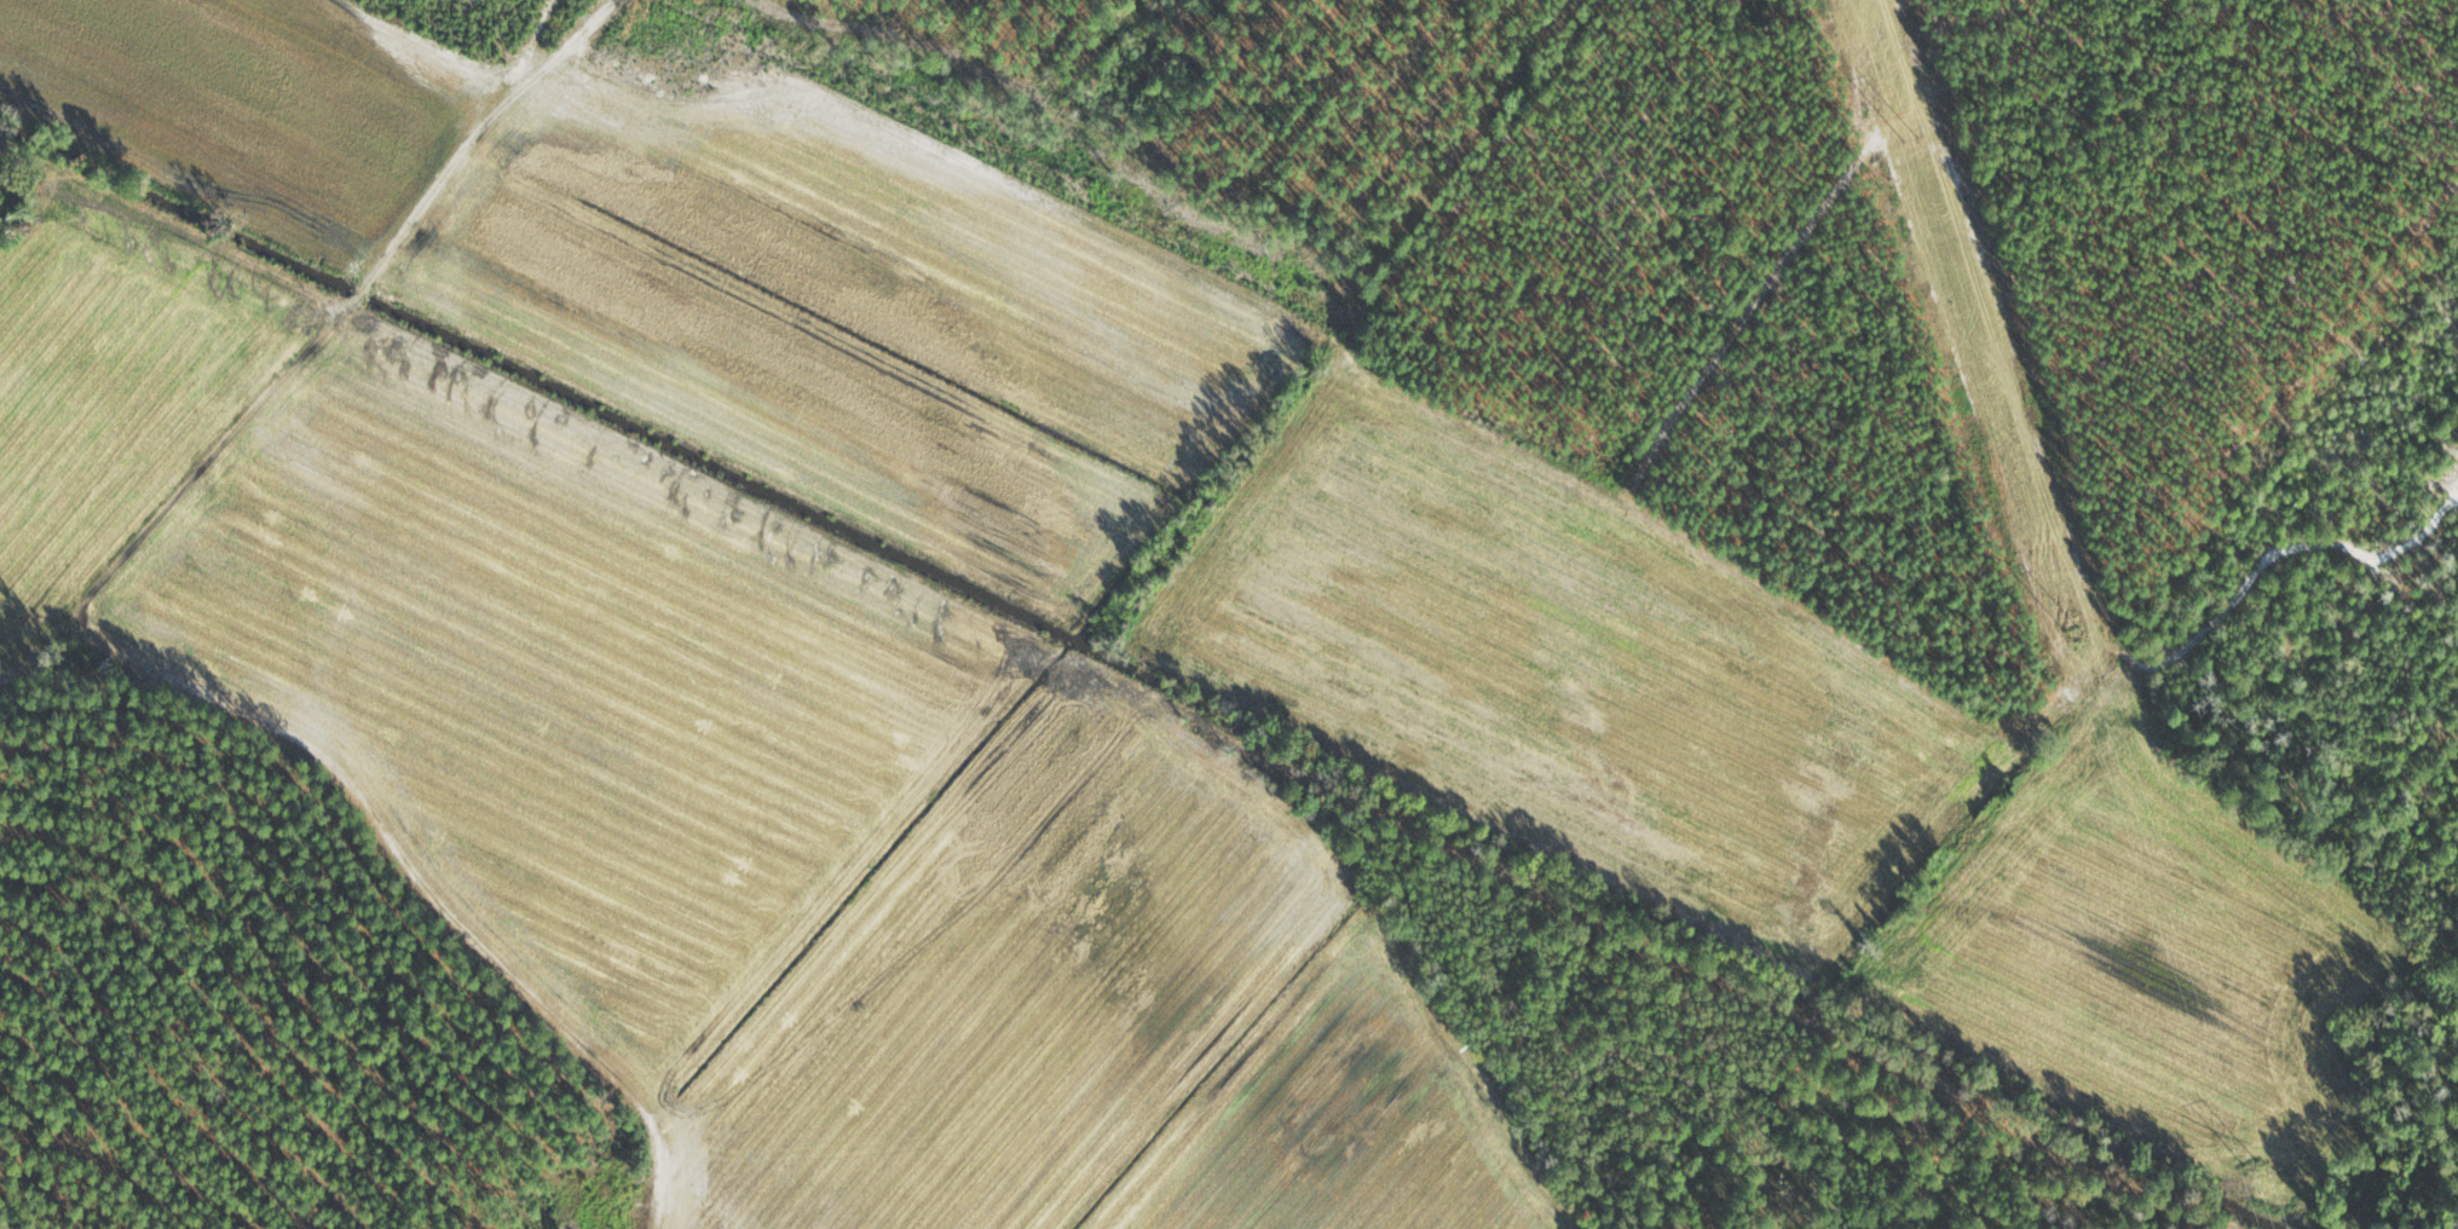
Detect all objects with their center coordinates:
power tower: (1910, 139)
power tower: (2072, 634)
power tower: (2249, 1164)

